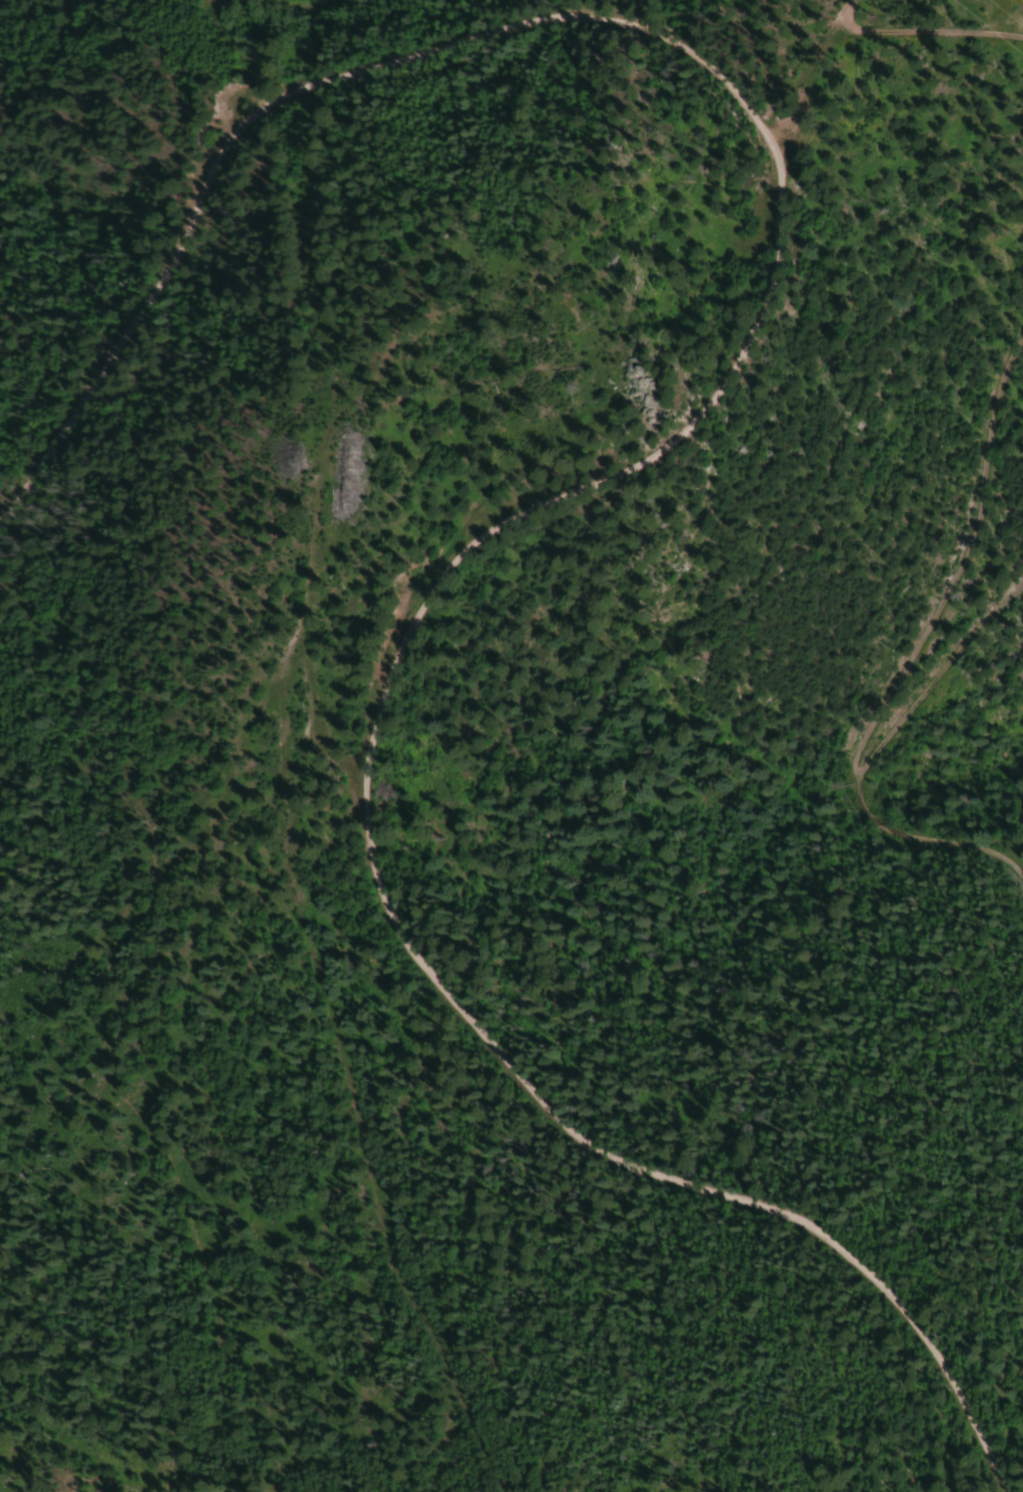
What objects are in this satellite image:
road: (626, 468)

